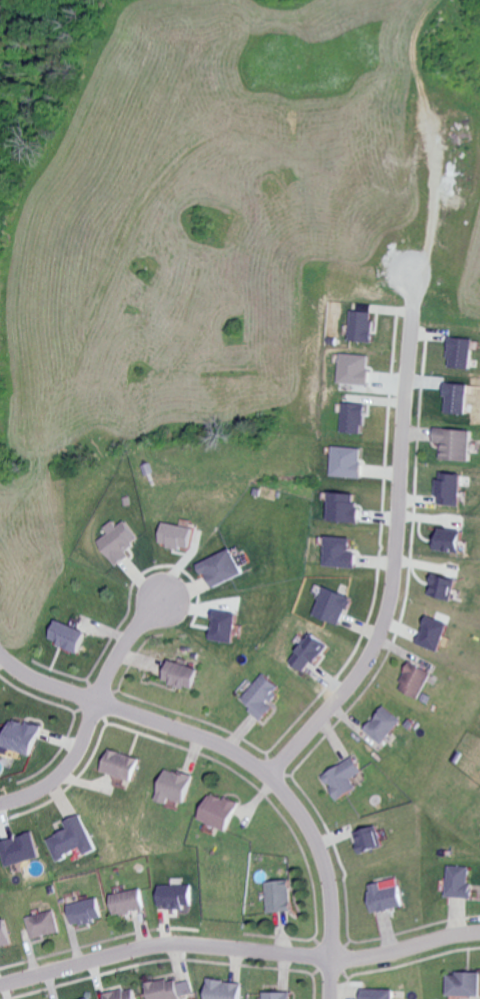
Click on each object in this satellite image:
building: (364, 328)
building: (464, 354)
building: (356, 371)
building: (355, 419)
building: (457, 445)
building: (348, 463)
building: (451, 490)
building: (343, 509)
building: (177, 537)
building: (119, 543)
building: (450, 543)
building: (339, 554)
road: (393, 560)
building: (222, 570)
building: (443, 589)
building: (334, 606)
building: (224, 628)
building: (435, 636)
building: (67, 638)
road: (121, 644)
building: (311, 654)
building: (183, 677)
building: (416, 682)
building: (263, 698)
building: (385, 727)
building: (23, 739)
road: (245, 759)
road: (64, 767)
building: (124, 767)
building: (345, 780)
building: (177, 789)
building: (222, 814)
building: (73, 841)
building: (370, 841)
building: (21, 852)
building: (461, 884)
building: (177, 898)
building: (281, 898)
building: (388, 898)
building: (130, 904)
building: (86, 914)
building: (43, 927)
building: (5, 936)
road: (163, 944)
road: (405, 945)
building: (464, 985)
building: (186, 989)
building: (165, 990)
building: (225, 990)
building: (380, 994)
building: (122, 995)
building: (279, 996)

